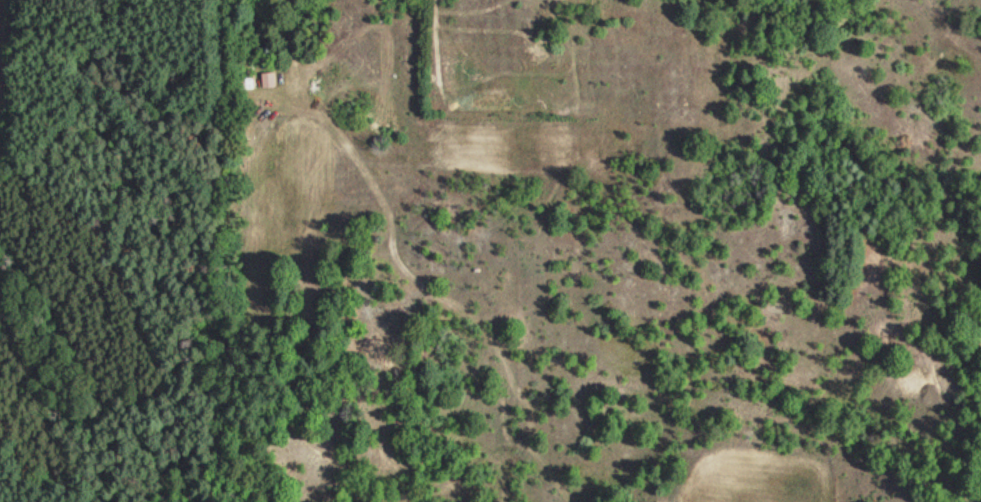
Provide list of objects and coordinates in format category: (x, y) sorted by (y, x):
building: (265, 81)

